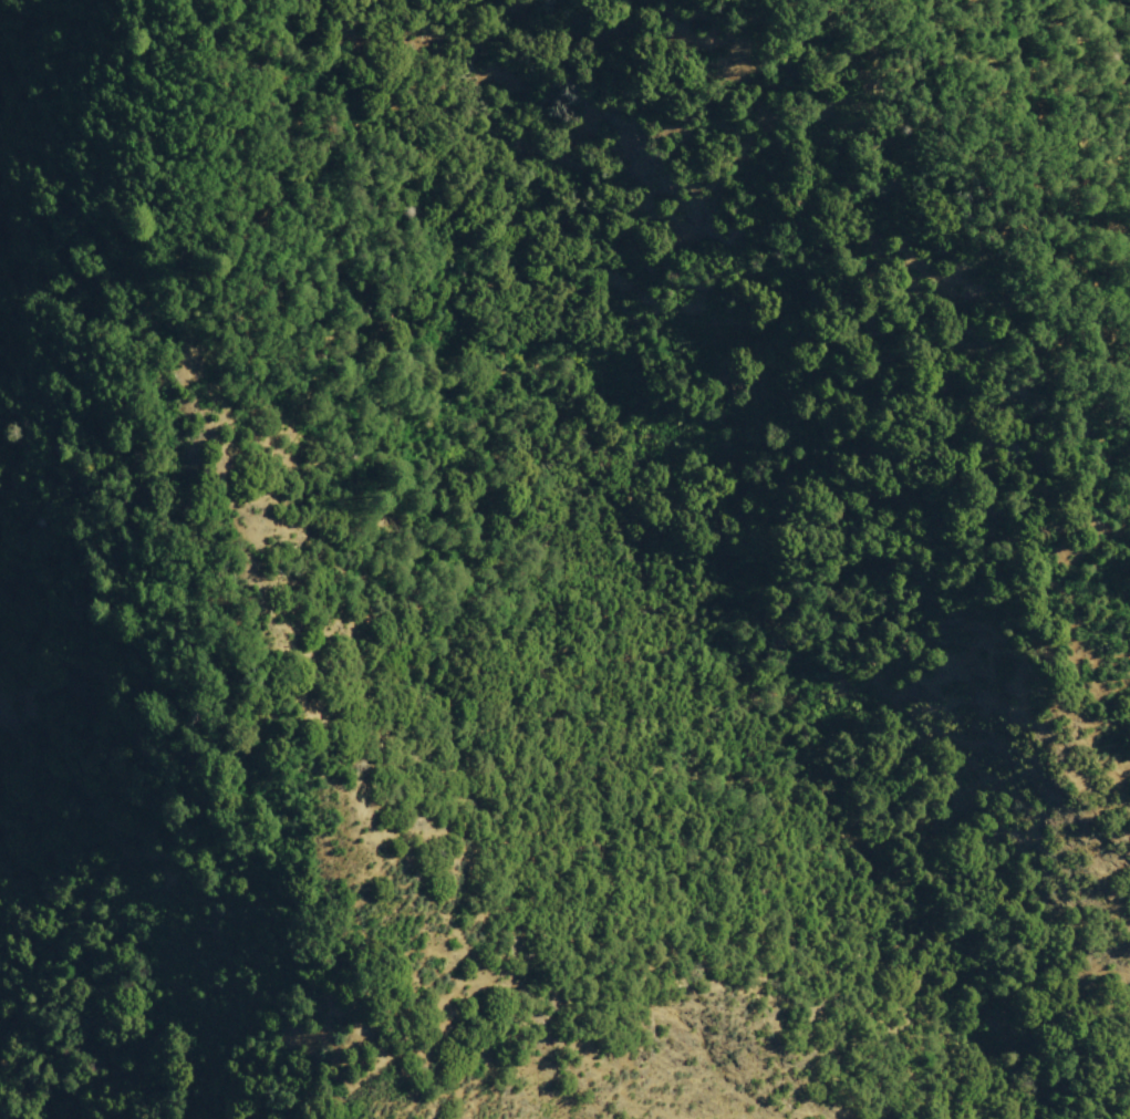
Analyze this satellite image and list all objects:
road: (974, 1019)

